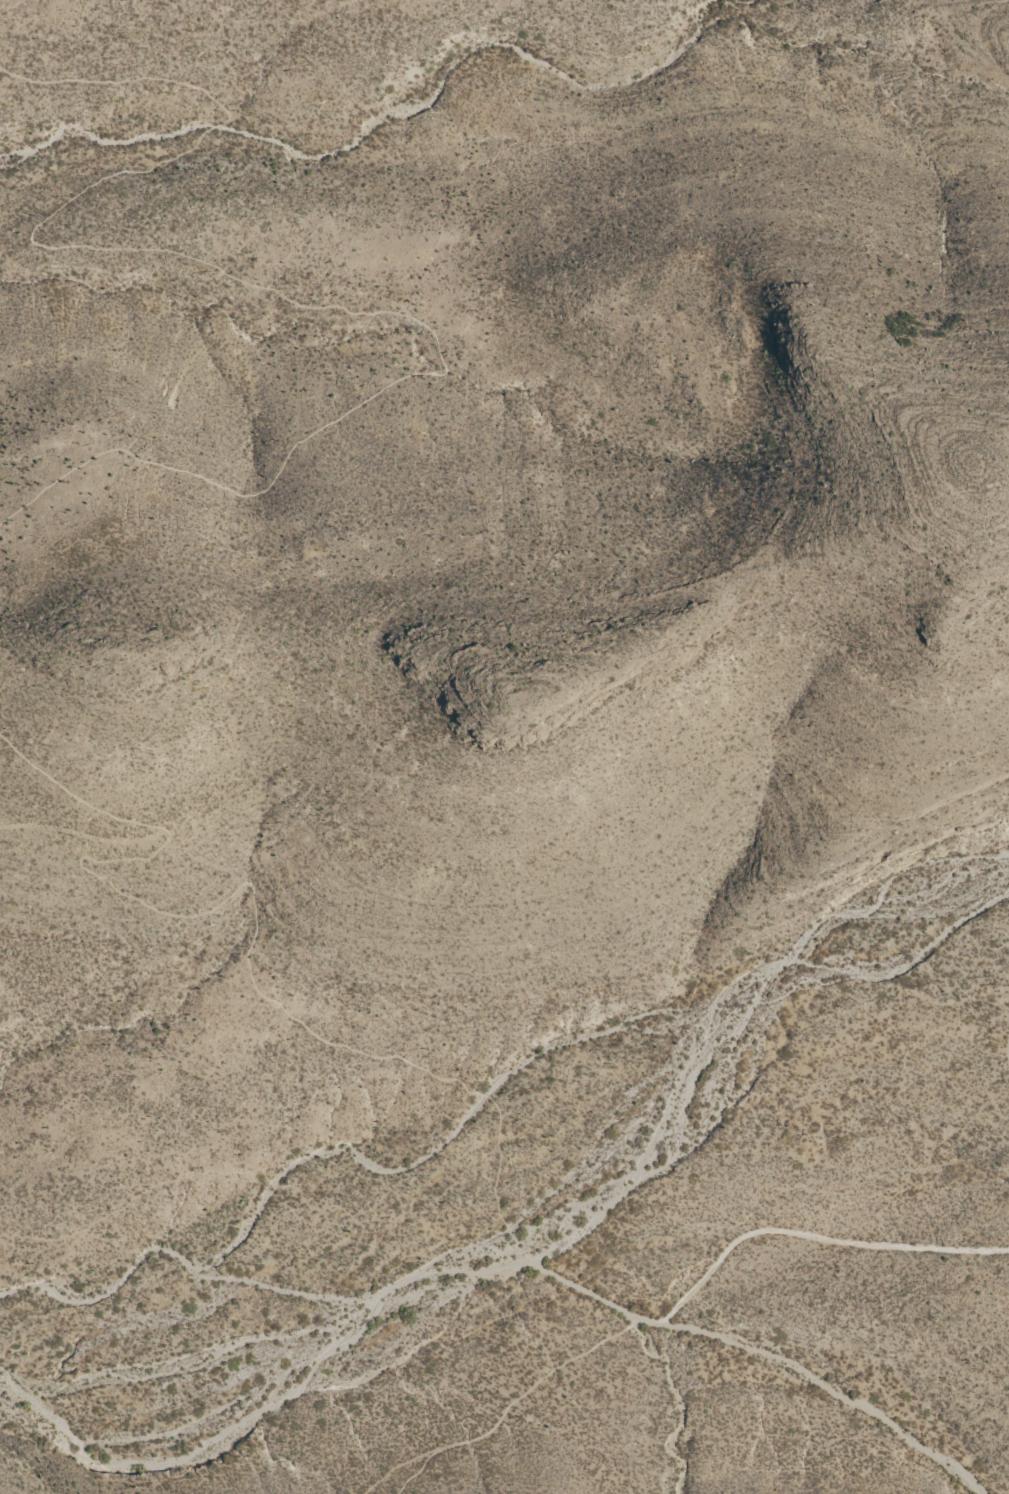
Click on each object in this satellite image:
road: (203, 276)
road: (1004, 1047)
road: (448, 1083)
road: (804, 1233)

